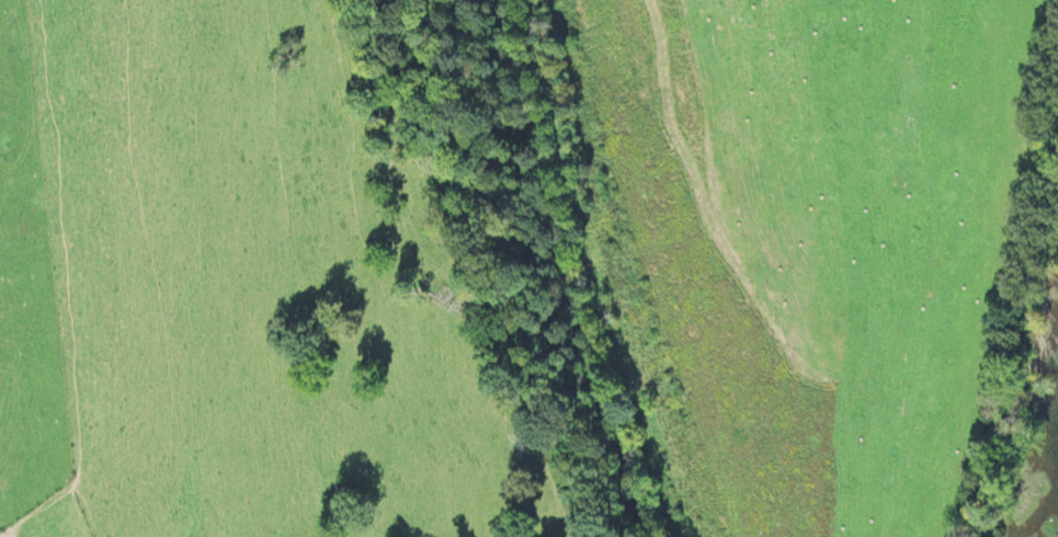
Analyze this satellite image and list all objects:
road: (555, 272)

